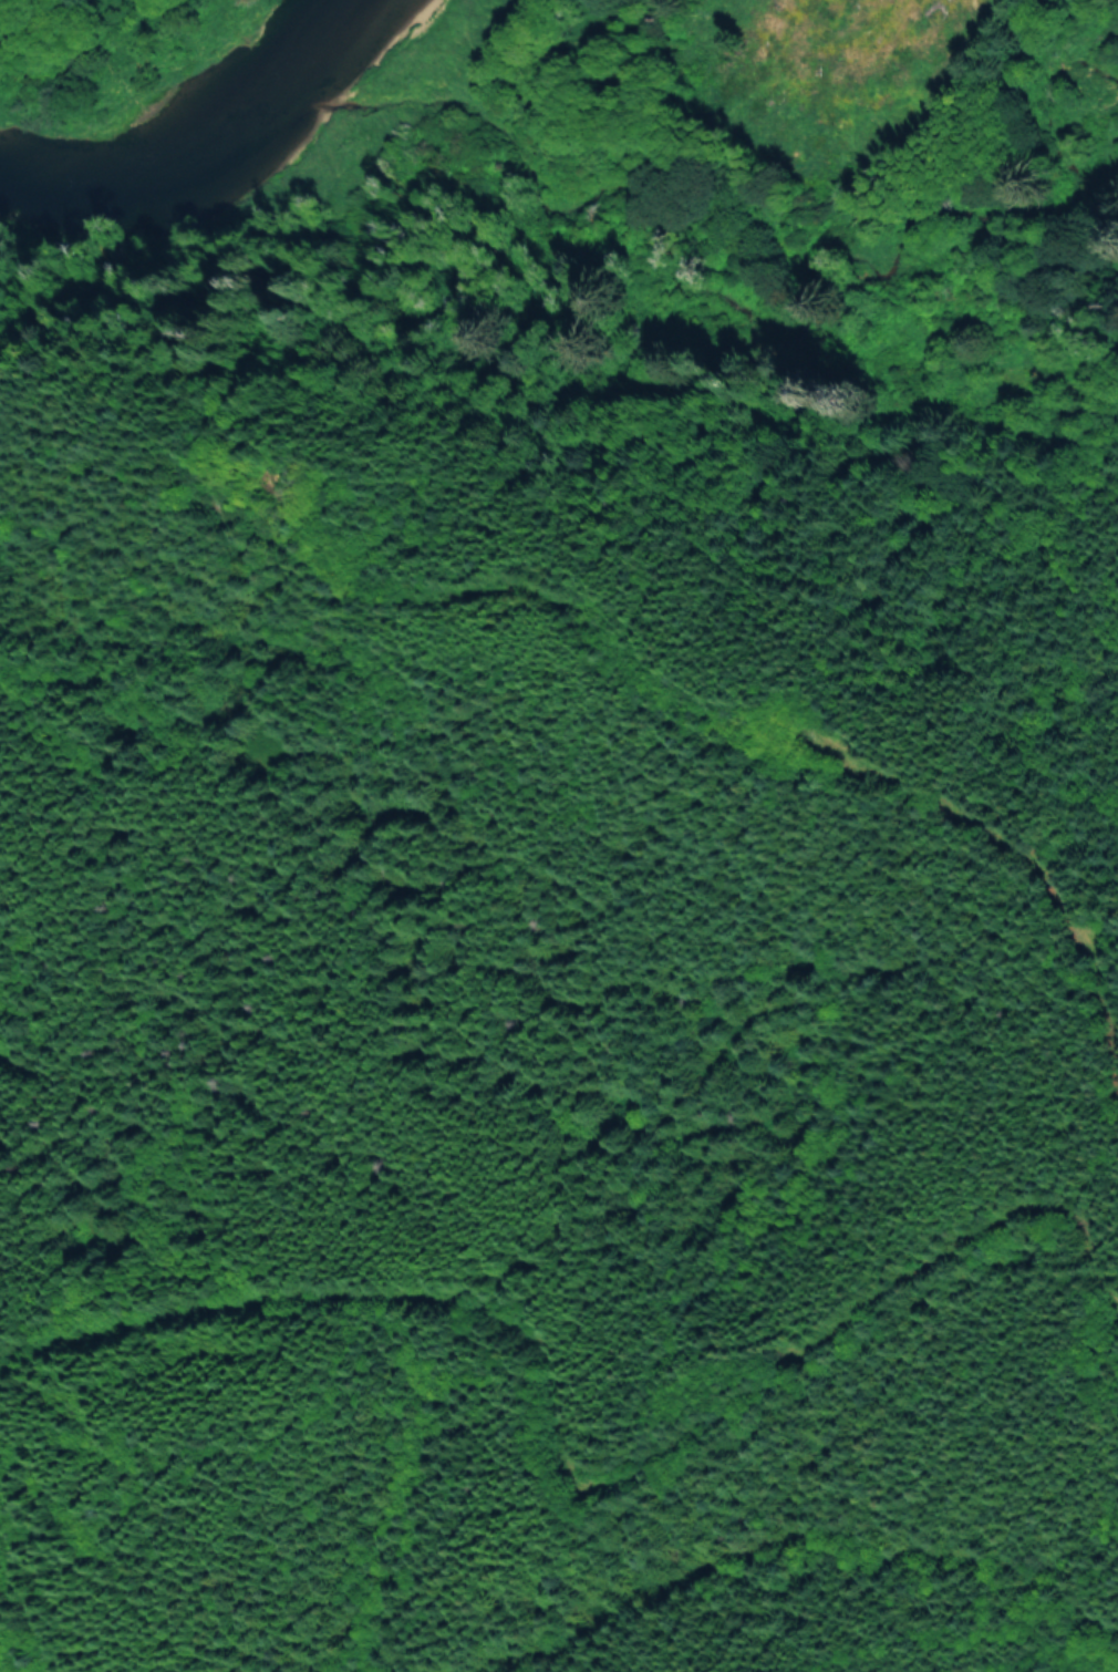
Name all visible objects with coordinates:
river: (204, 140)

